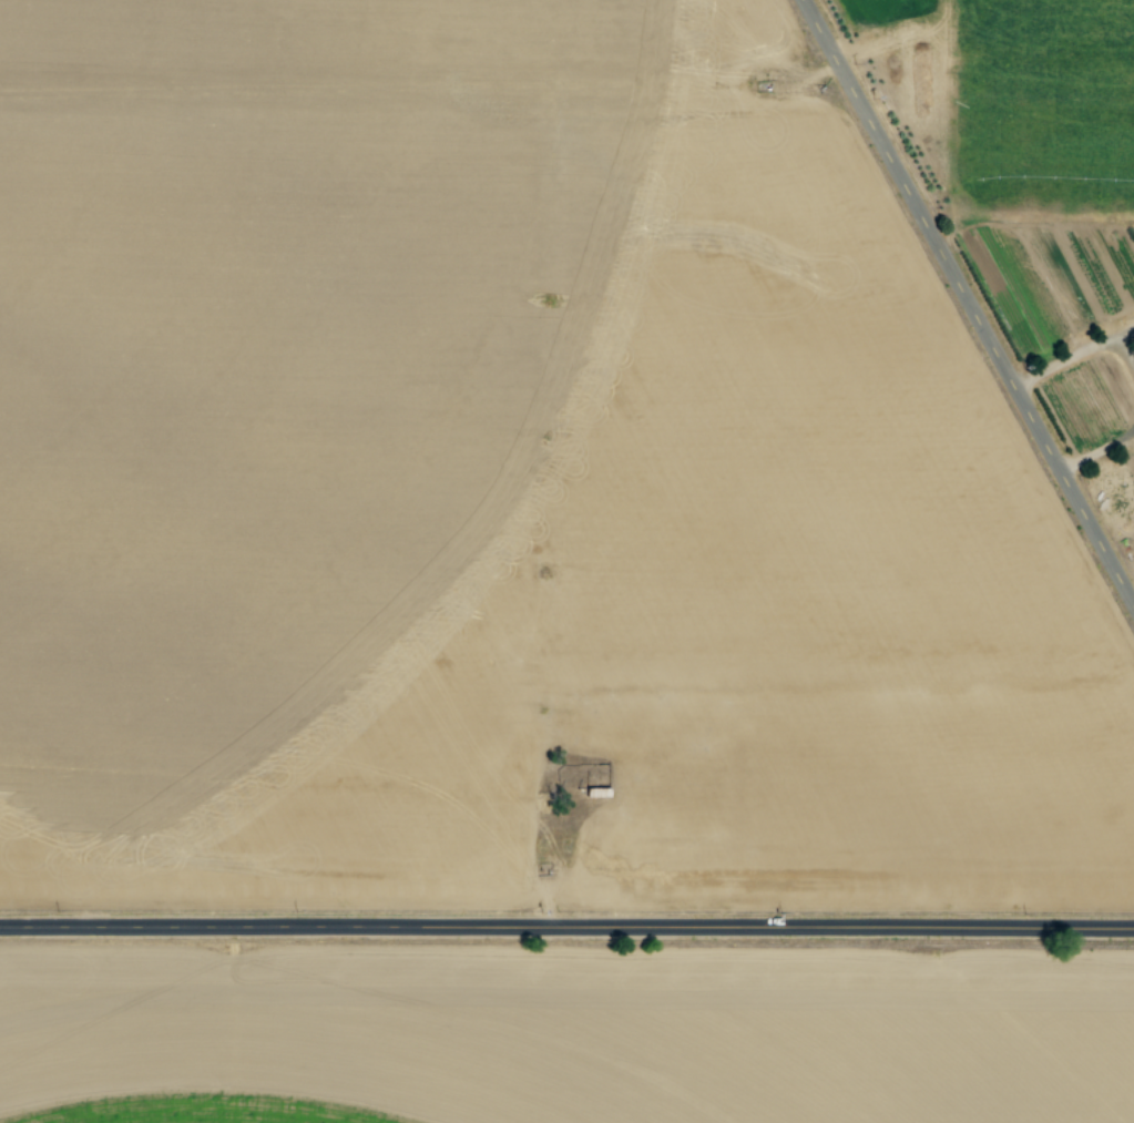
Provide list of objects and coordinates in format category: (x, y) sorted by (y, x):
road: (961, 307)
road: (566, 931)

